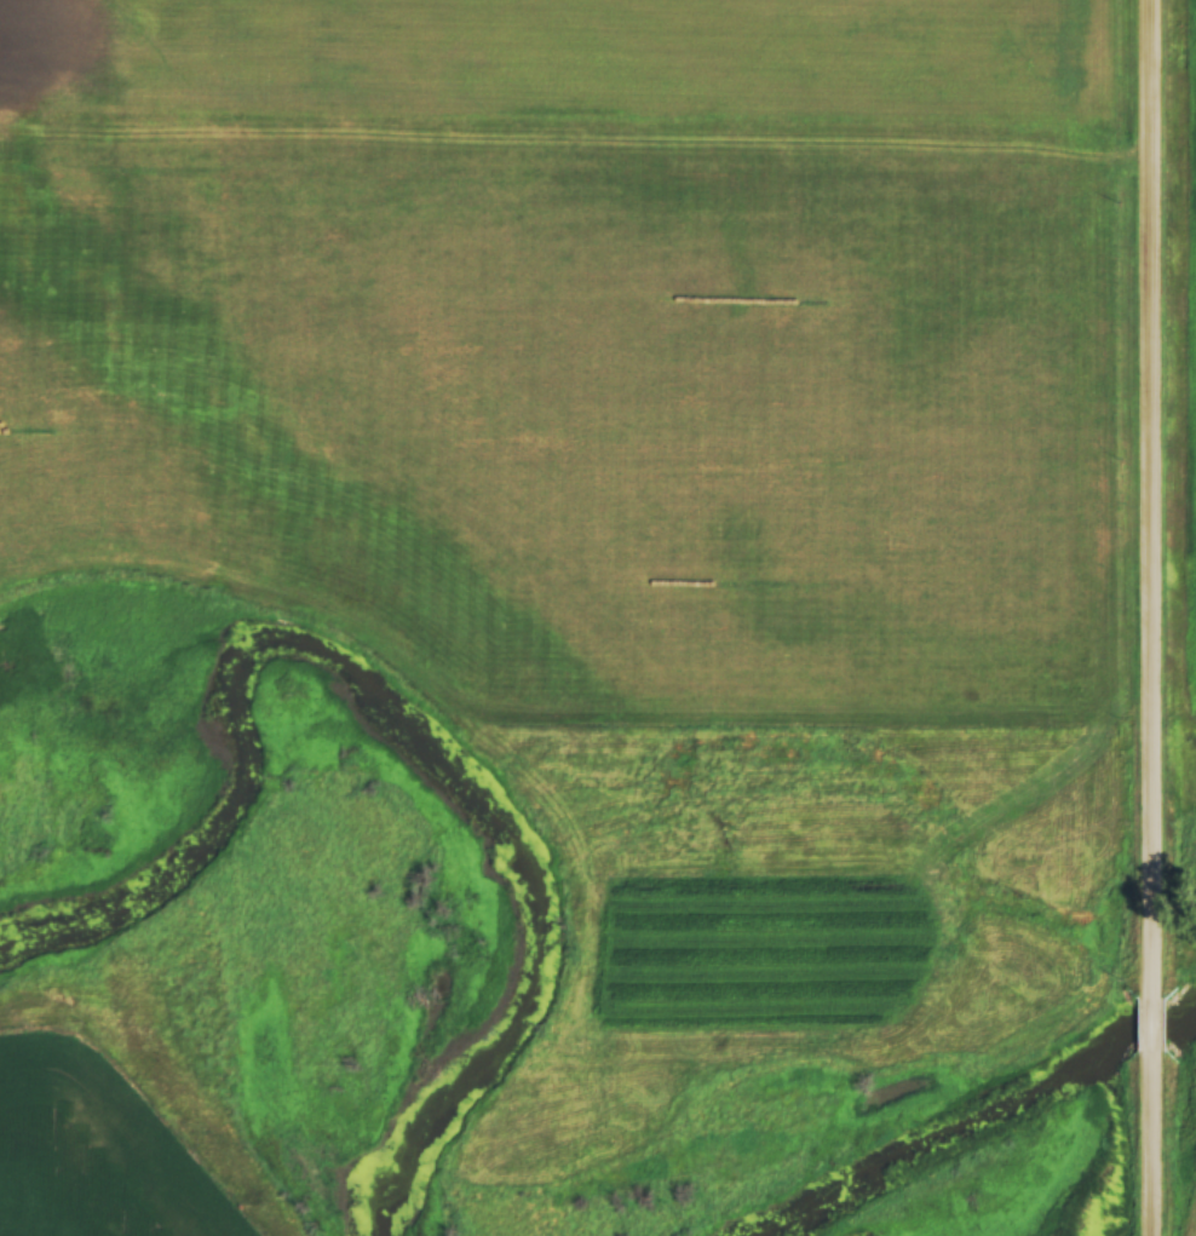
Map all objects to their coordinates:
road: (1148, 500)
river: (395, 734)
road: (1148, 1018)
river: (976, 1102)
road: (1148, 1136)

